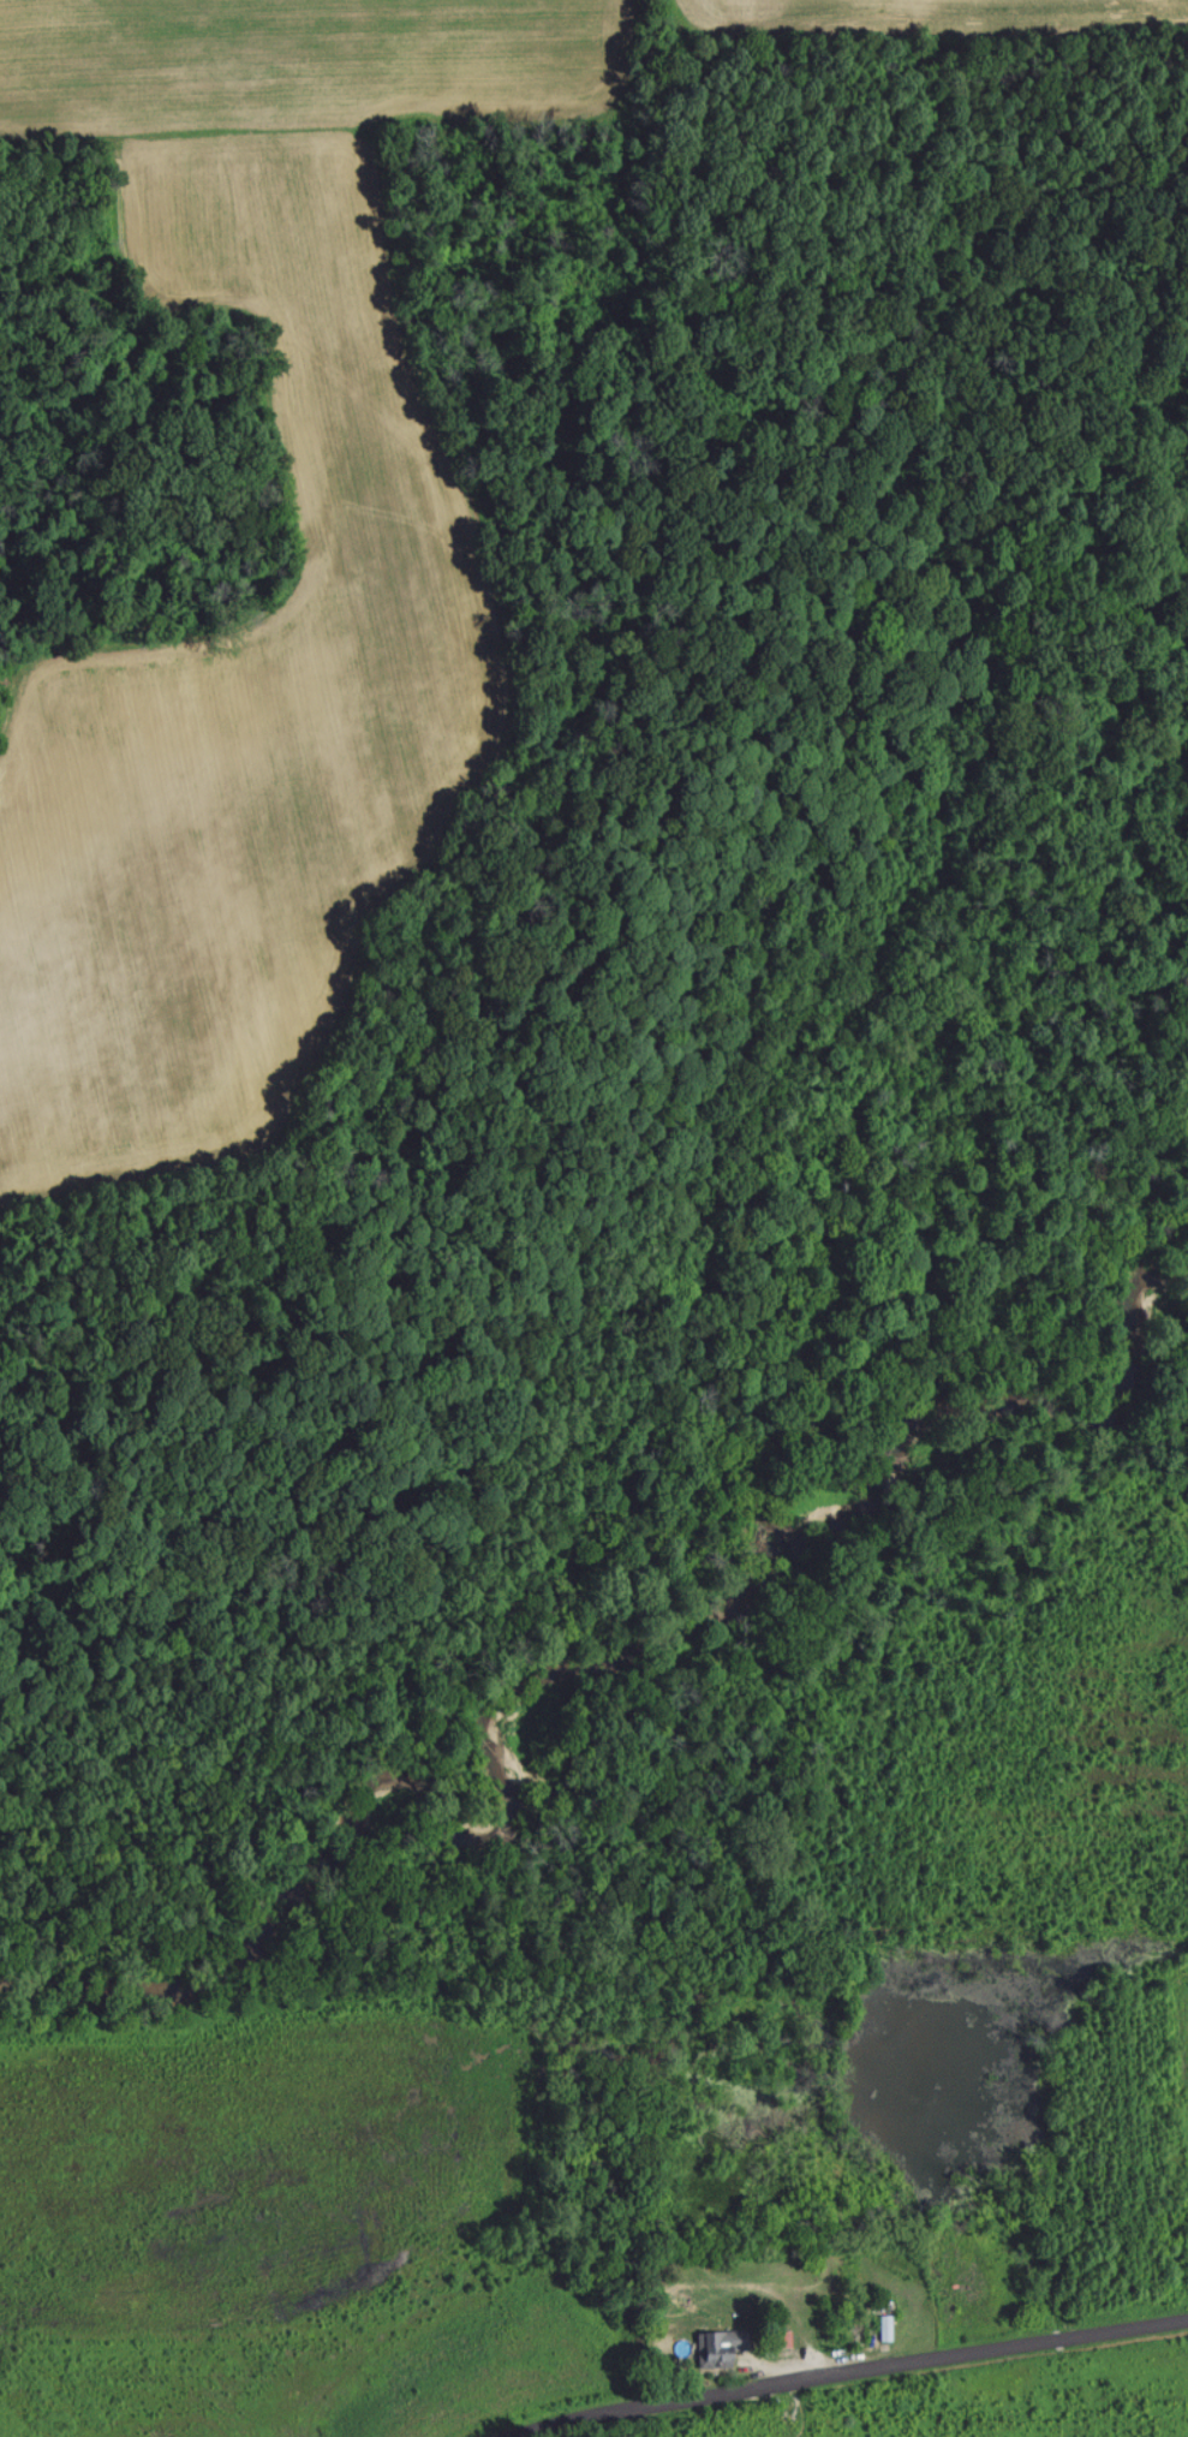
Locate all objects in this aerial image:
building: (843, 2324)
building: (883, 2328)
building: (718, 2346)
road: (852, 2369)

